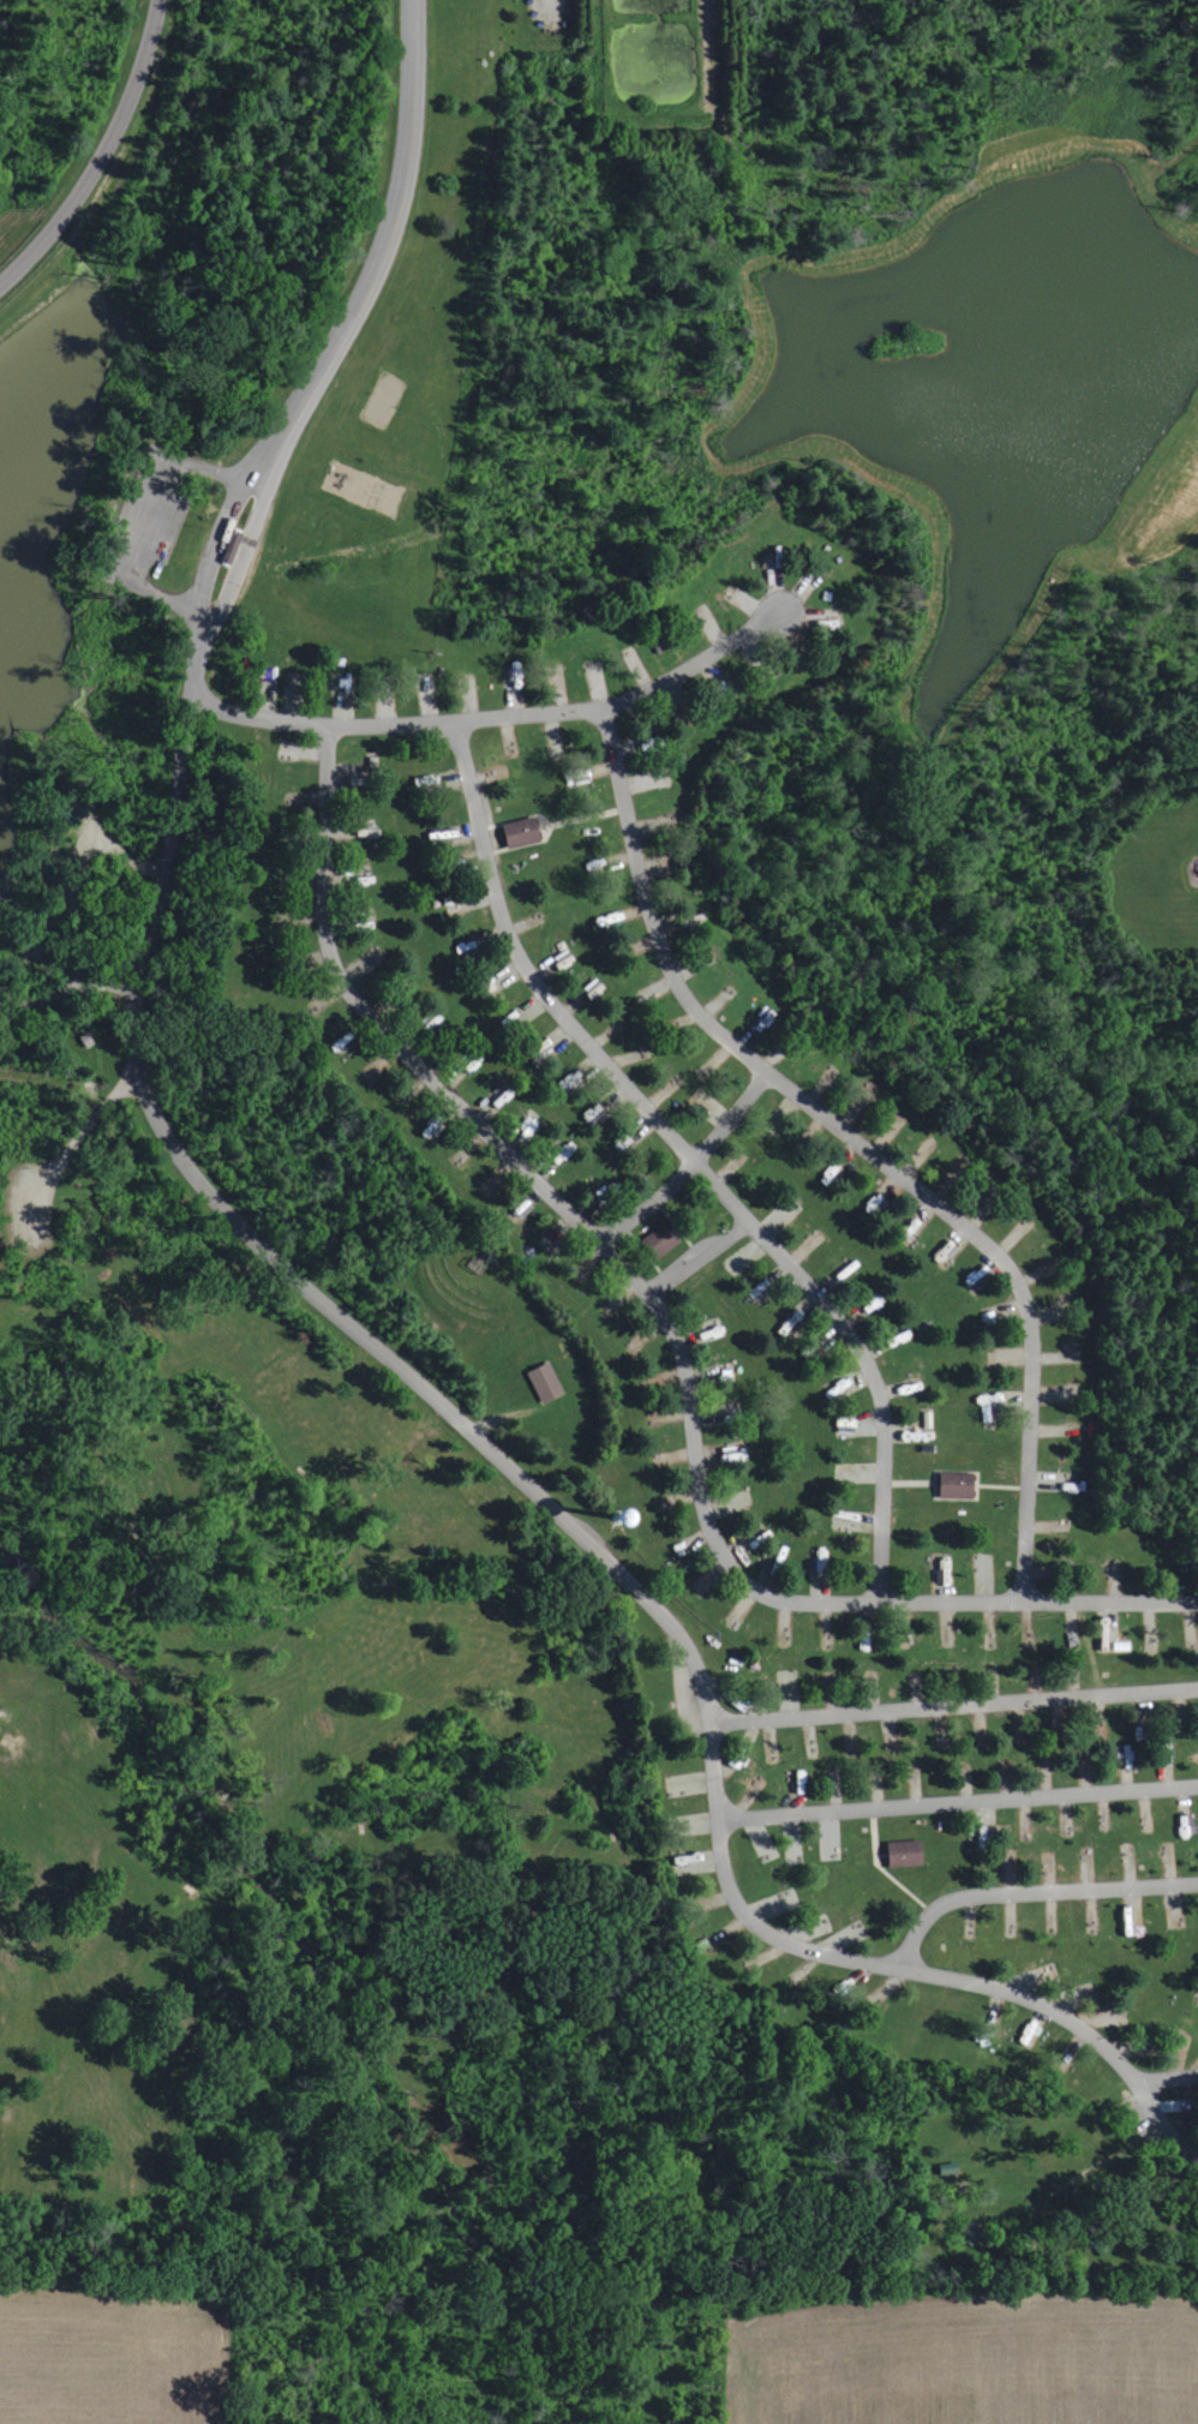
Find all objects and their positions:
road: (990, 1)
road: (546, 5)
road: (705, 53)
road: (103, 152)
road: (1174, 155)
road: (377, 255)
park: (379, 397)
road: (252, 481)
road: (146, 514)
parking lot: (144, 520)
toll booth: (228, 544)
road: (495, 716)
building: (66, 812)
road: (582, 816)
road: (541, 826)
road: (72, 830)
building: (522, 831)
road: (125, 854)
building: (55, 873)
building: (364, 878)
road: (54, 914)
road: (72, 924)
building: (49, 958)
road: (109, 982)
building: (1, 994)
road: (88, 1001)
building: (89, 1036)
road: (857, 1143)
road: (67, 1151)
road: (690, 1157)
road: (690, 1163)
parking lot: (26, 1202)
road: (676, 1226)
building: (661, 1239)
road: (643, 1252)
road: (677, 1269)
road: (667, 1323)
building: (541, 1381)
building: (990, 1403)
road: (498, 1414)
building: (738, 1453)
road: (971, 1471)
road: (906, 1480)
building: (951, 1483)
road: (996, 1485)
road: (529, 1488)
water tower: (617, 1516)
road: (953, 1704)
road: (958, 1802)
building: (904, 1851)
road: (882, 1868)
road: (1030, 1891)
road: (1164, 2077)
parking lot: (1144, 2117)
building: (948, 2167)
road: (1084, 2168)
road: (1077, 2201)
building: (972, 2236)
building: (1024, 2242)
building: (1097, 2245)

